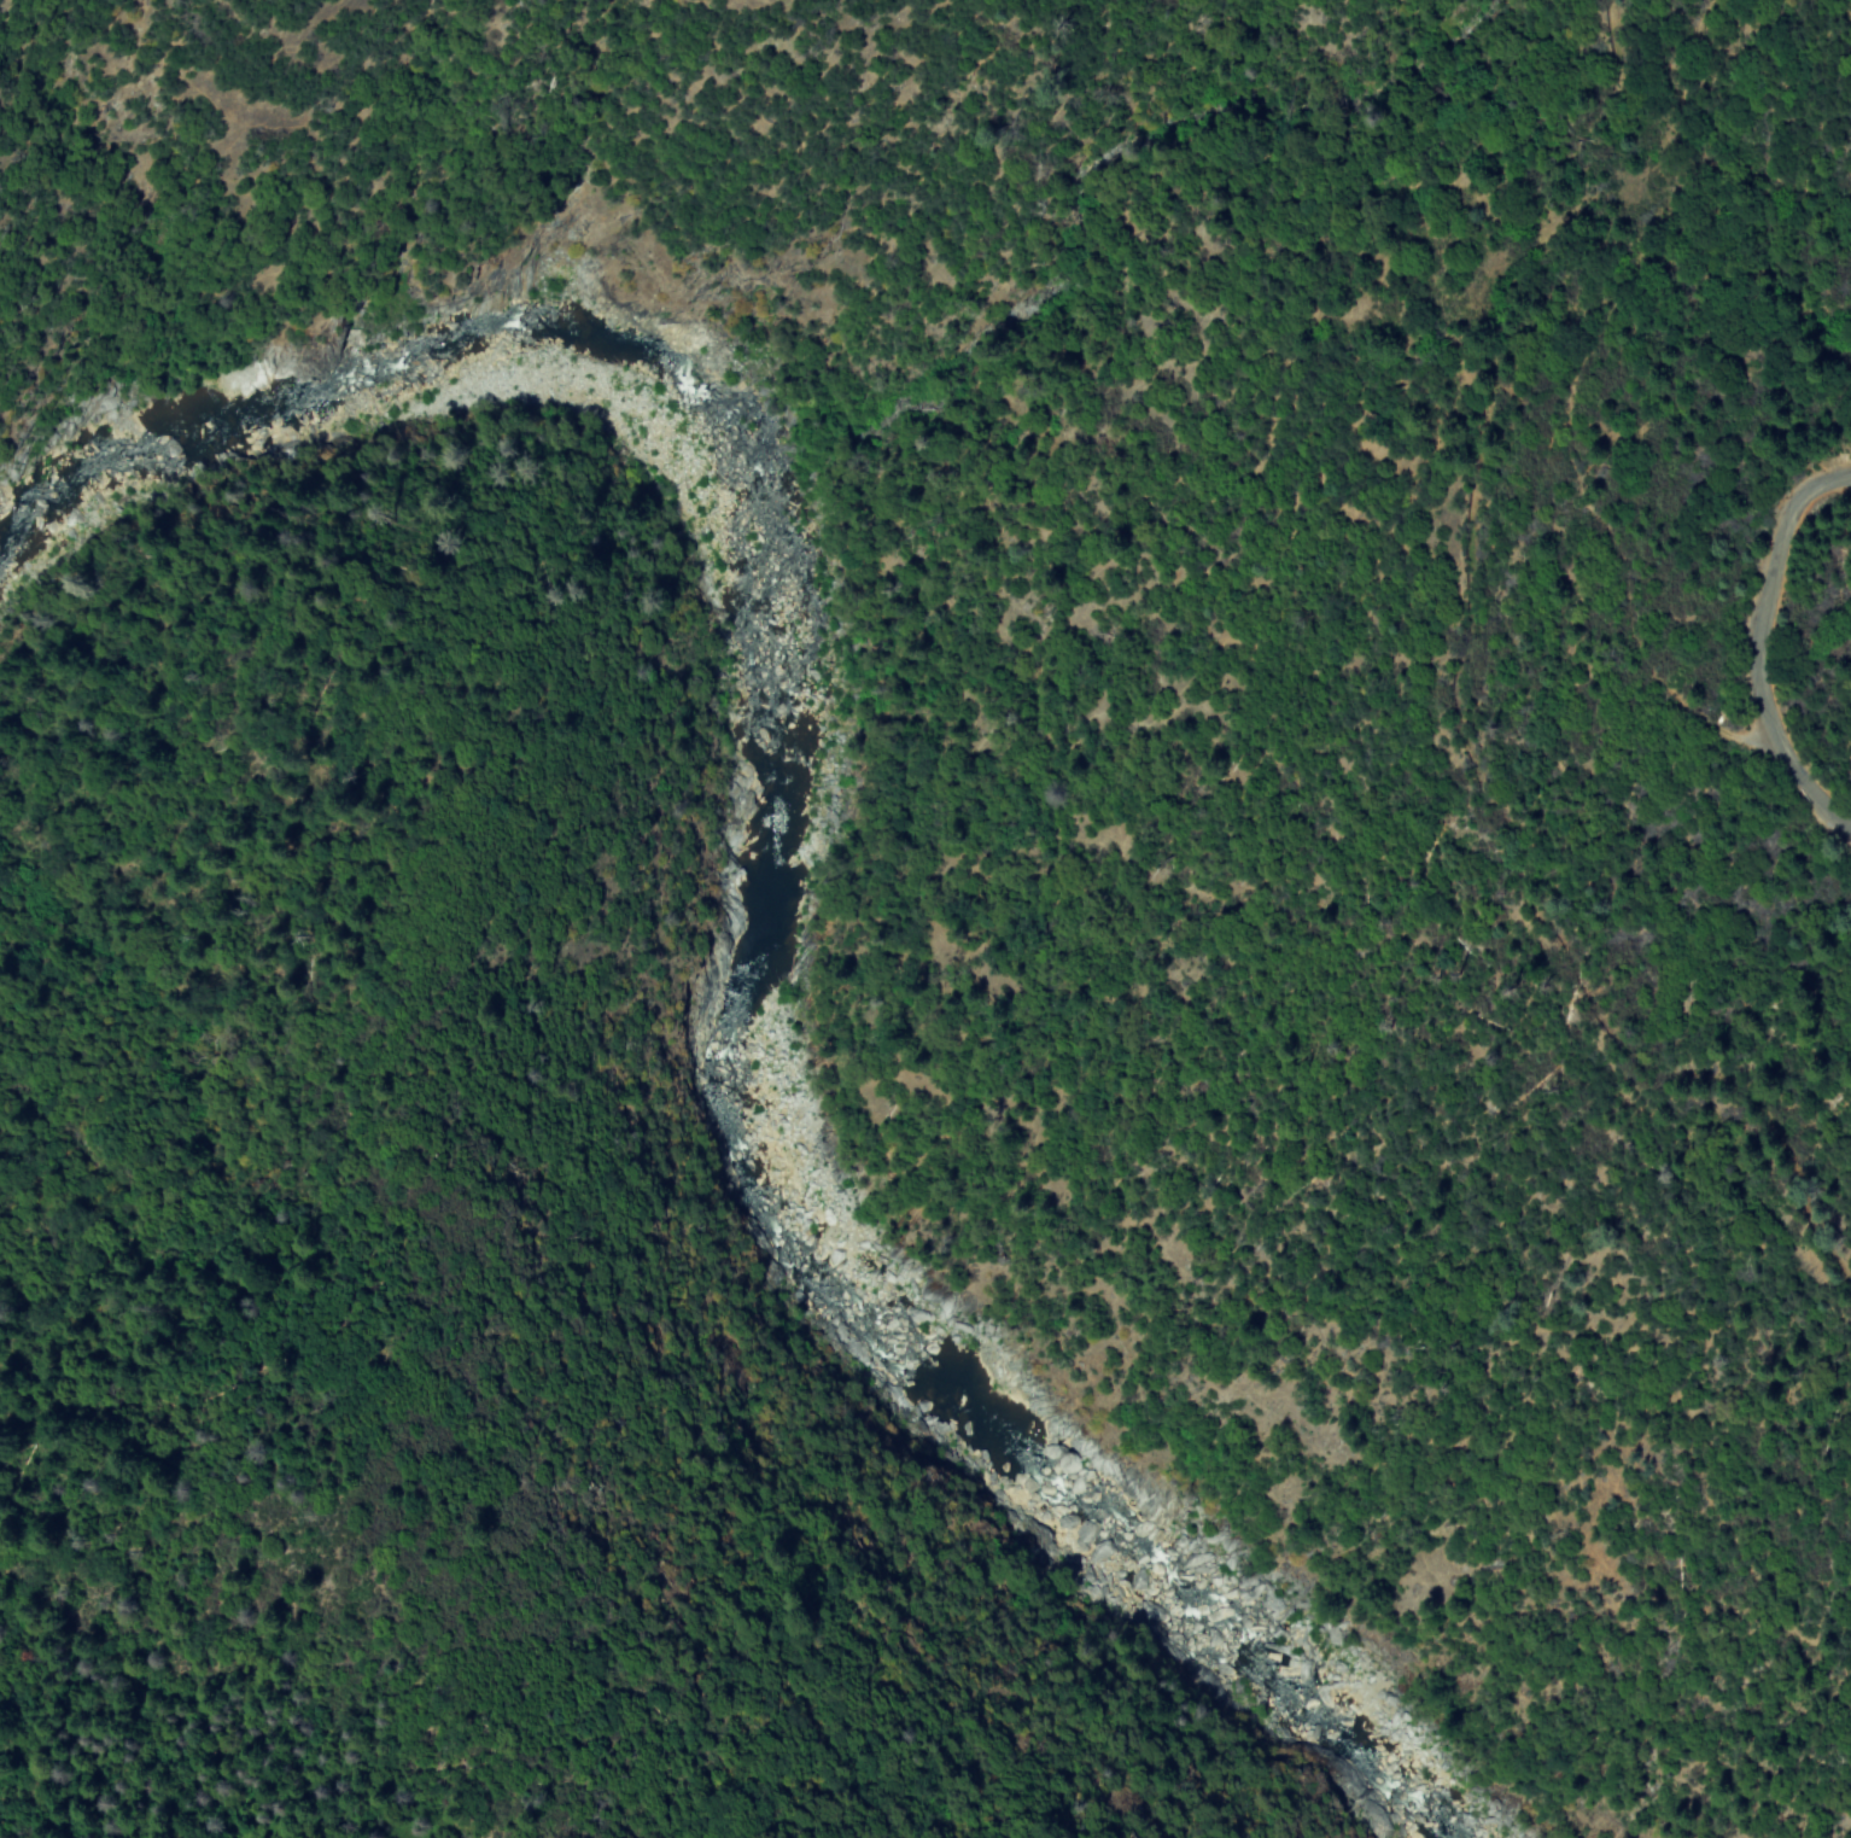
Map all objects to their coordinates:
road: (1753, 644)
river: (802, 858)

